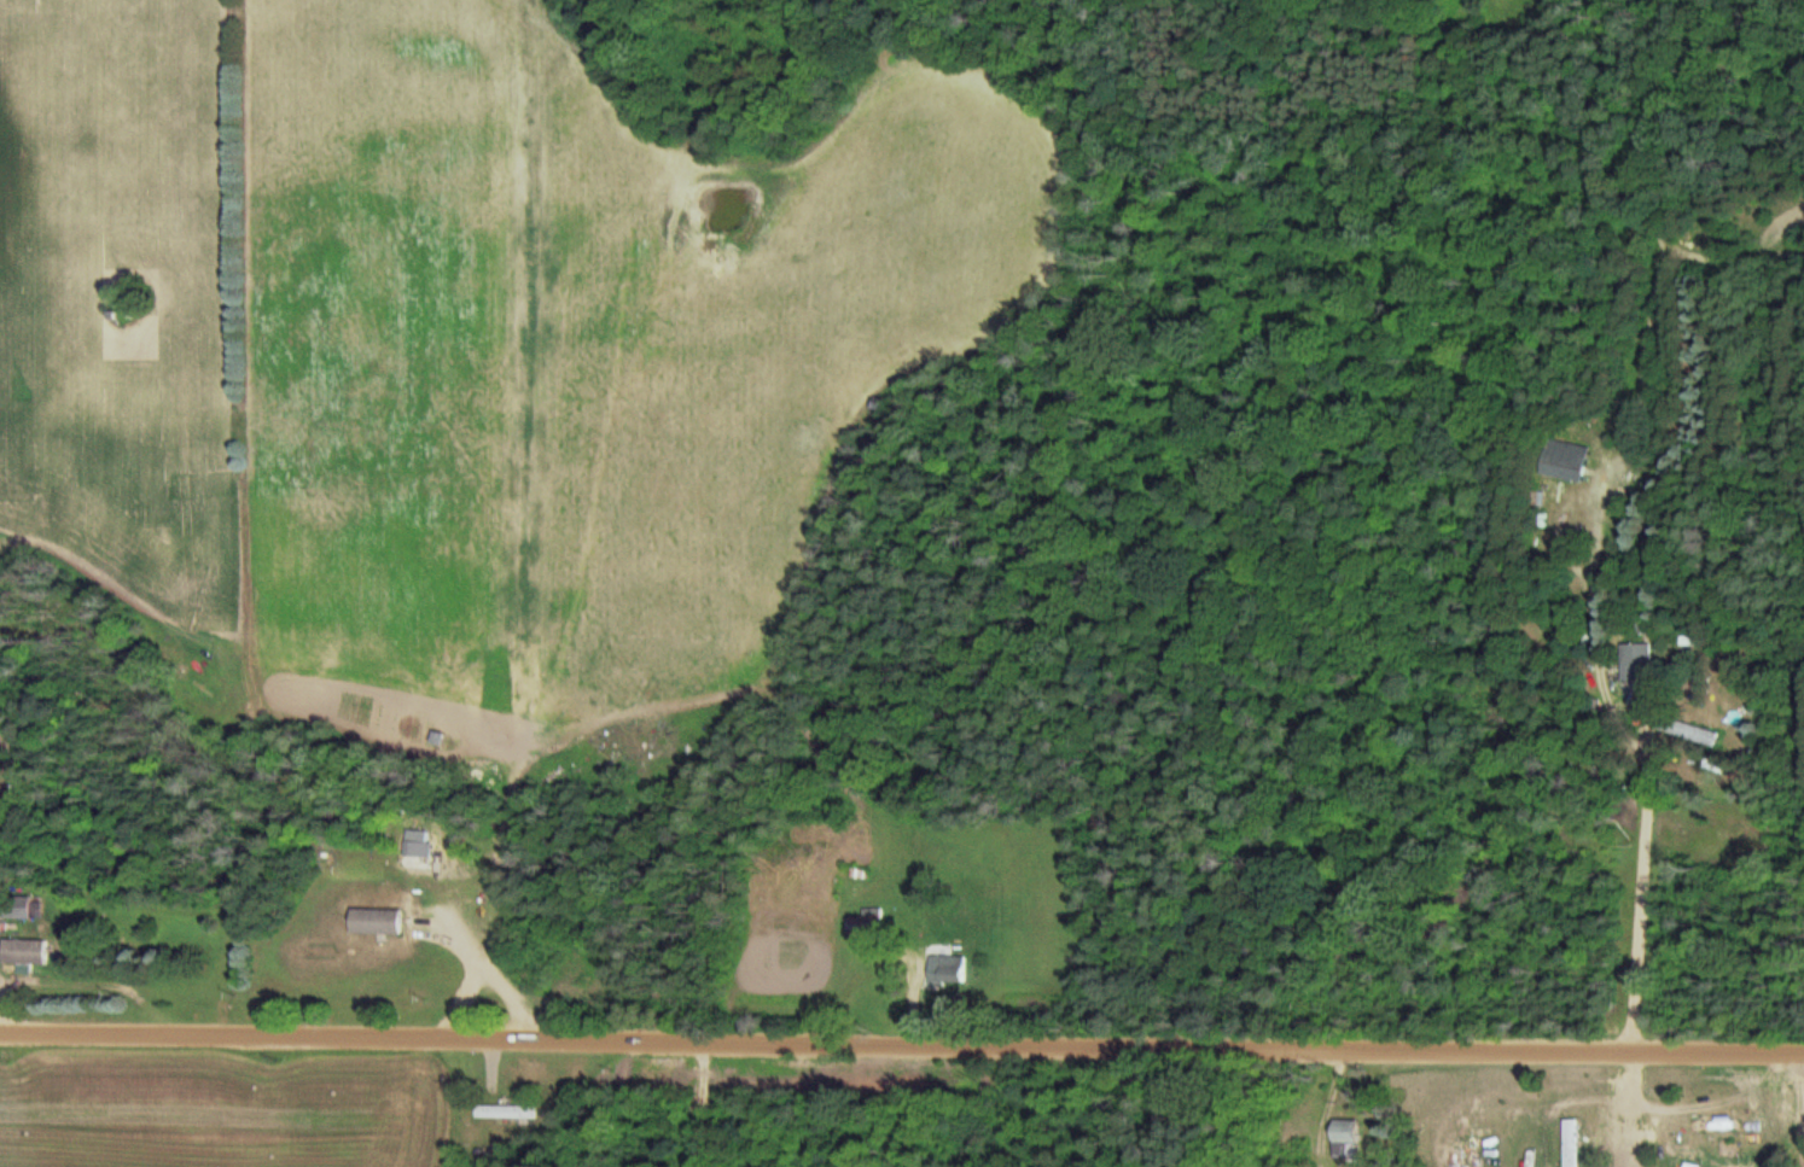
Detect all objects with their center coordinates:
building: (1564, 460)
building: (1635, 661)
building: (1688, 730)
road: (53, 868)
road: (1642, 892)
building: (13, 908)
building: (374, 921)
building: (865, 924)
building: (24, 941)
building: (945, 970)
road: (901, 1038)
building: (505, 1111)
building: (1715, 1126)
building: (1345, 1138)
building: (1587, 1142)
building: (1570, 1143)

